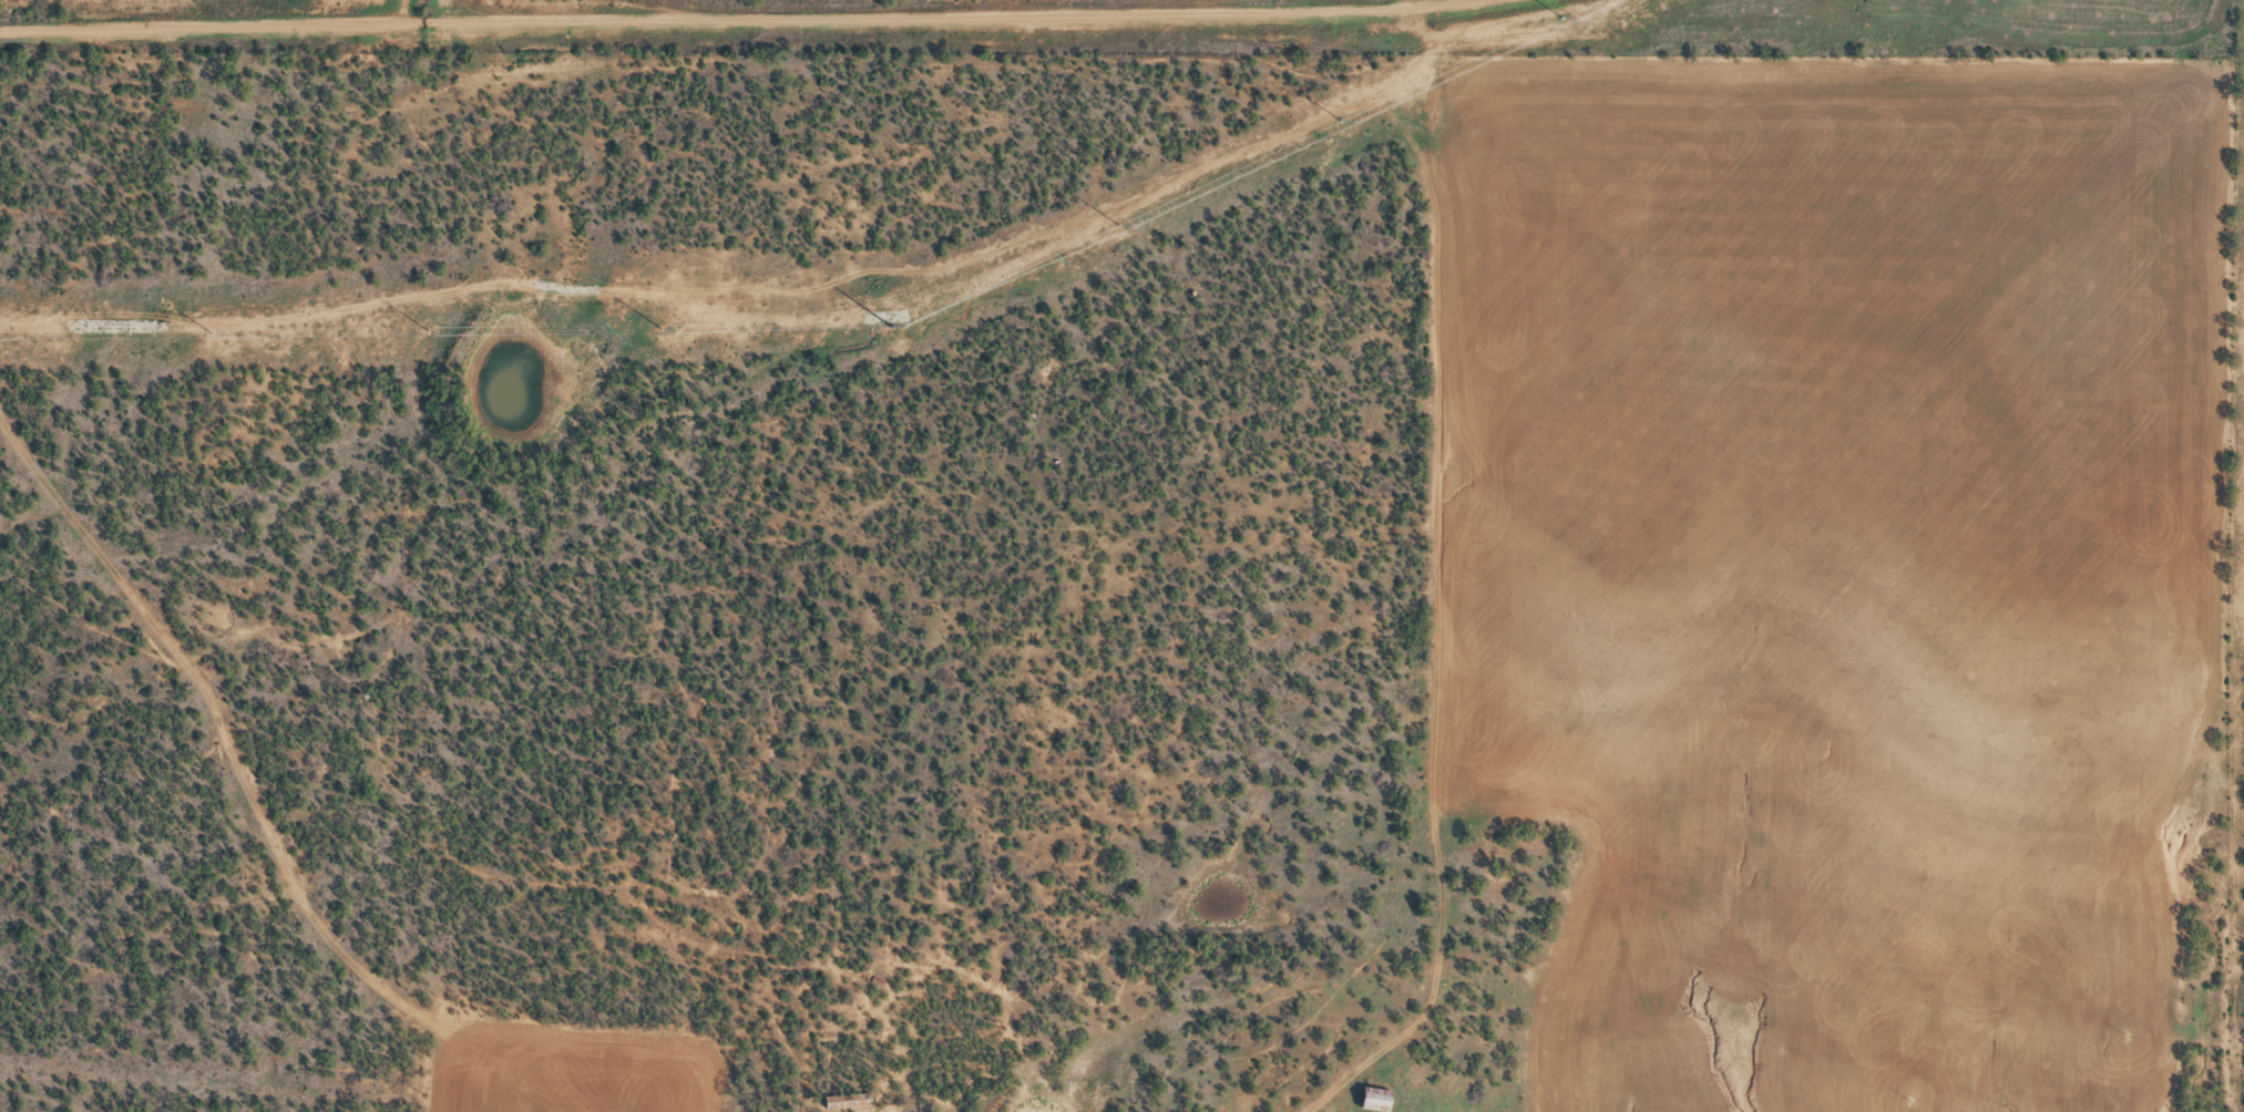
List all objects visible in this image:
road: (742, 22)
building: (1374, 1098)

